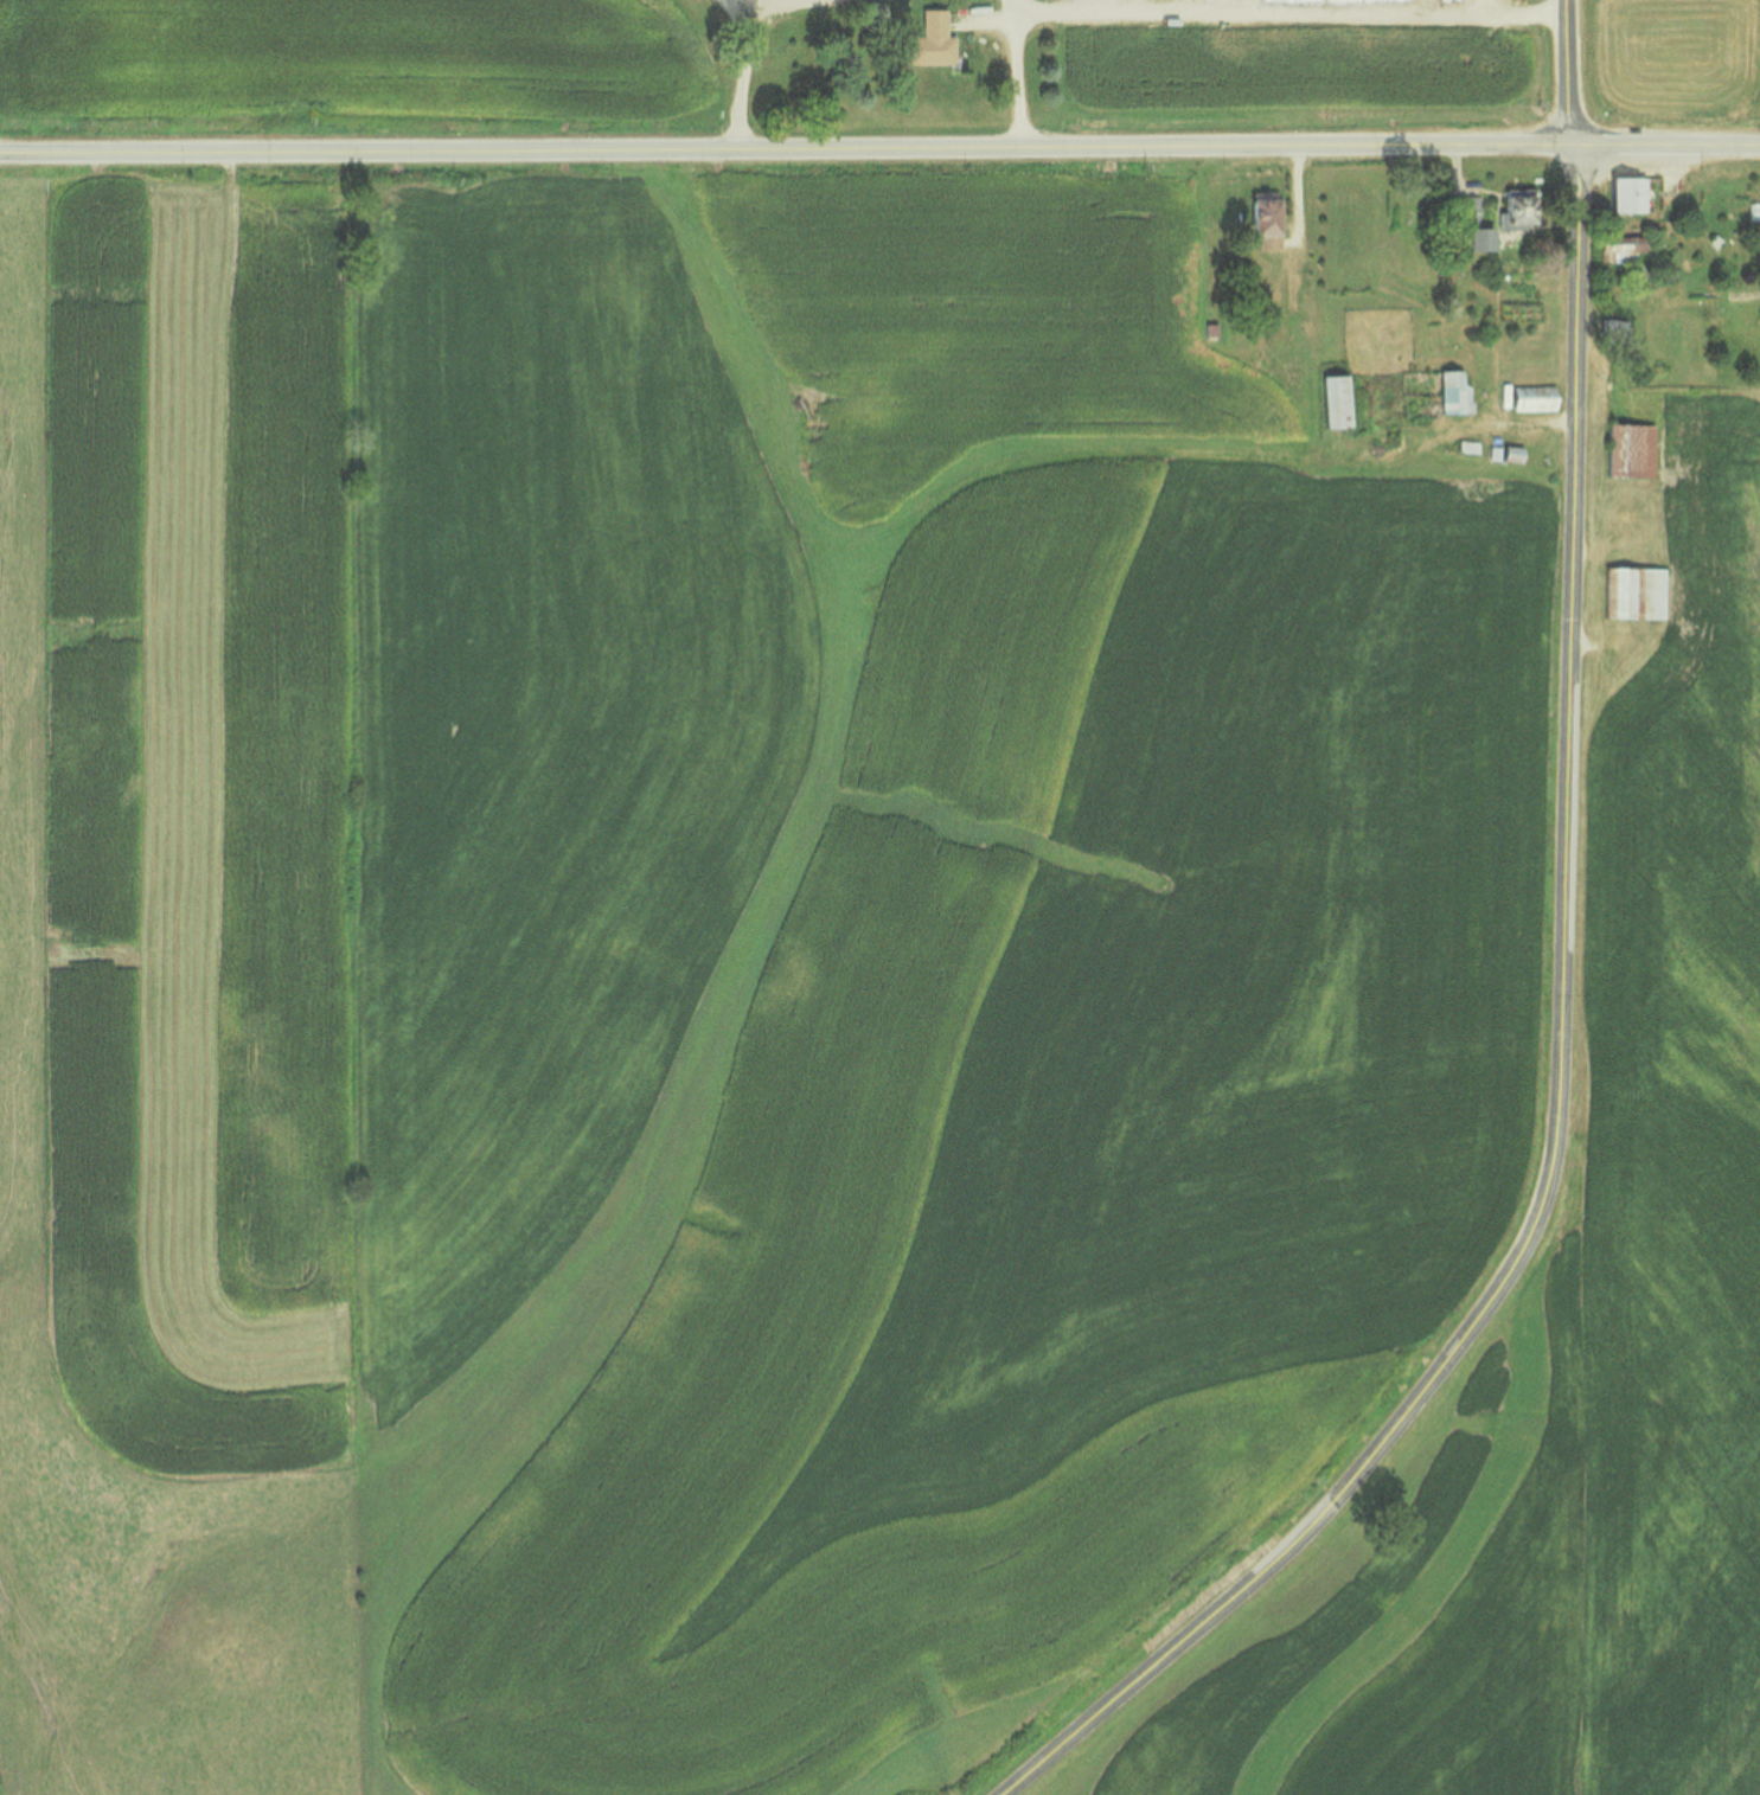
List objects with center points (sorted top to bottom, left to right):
road: (1293, 9)
building: (927, 40)
road: (749, 62)
road: (1023, 72)
road: (879, 147)
building: (1624, 193)
building: (1511, 209)
building: (1261, 220)
building: (1471, 225)
building: (1619, 249)
building: (1278, 322)
building: (1613, 331)
building: (1453, 392)
building: (1530, 397)
building: (1333, 399)
building: (1628, 449)
building: (1503, 453)
building: (1632, 592)
road: (1555, 1004)

